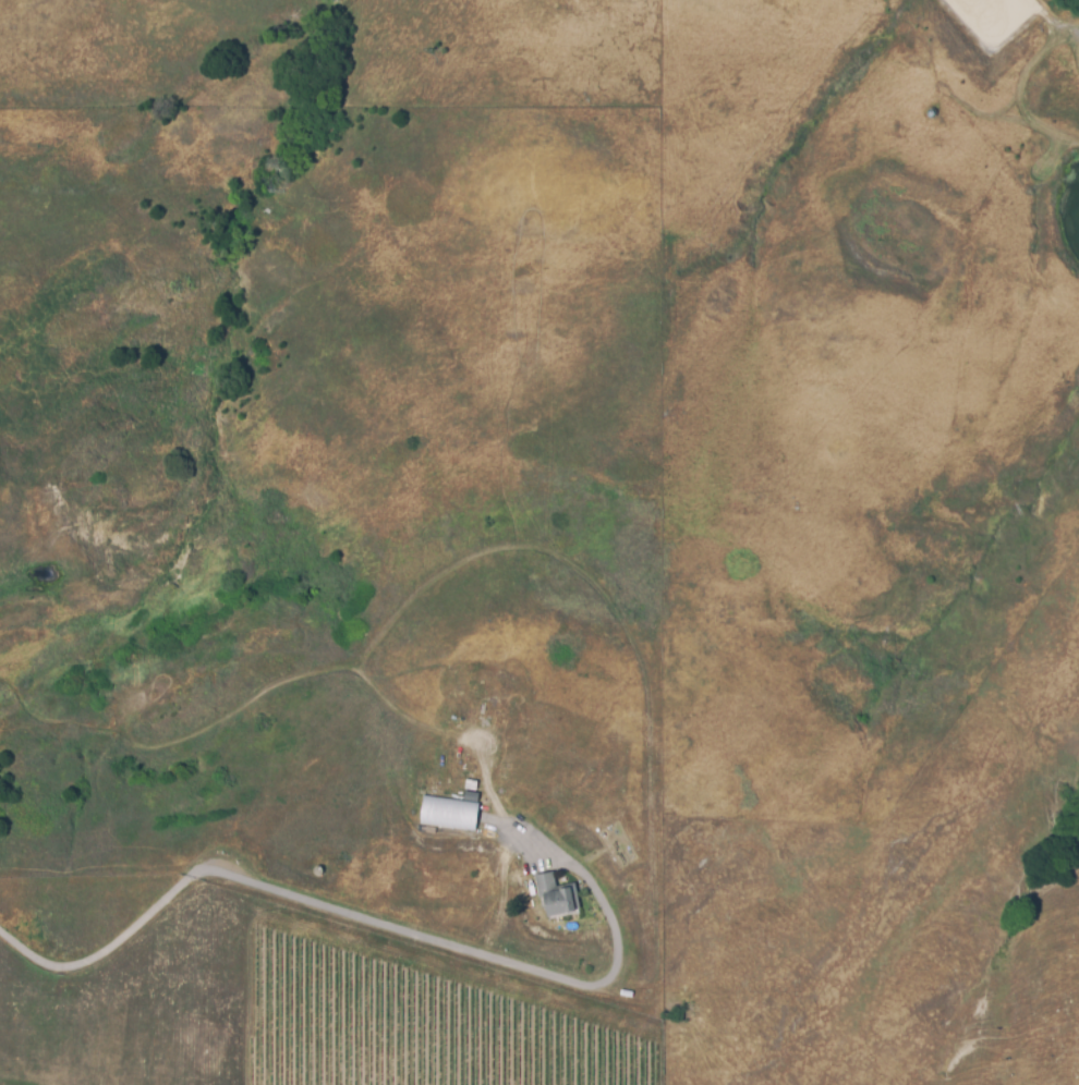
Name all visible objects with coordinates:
building: (448, 816)
building: (555, 897)
road: (336, 910)

